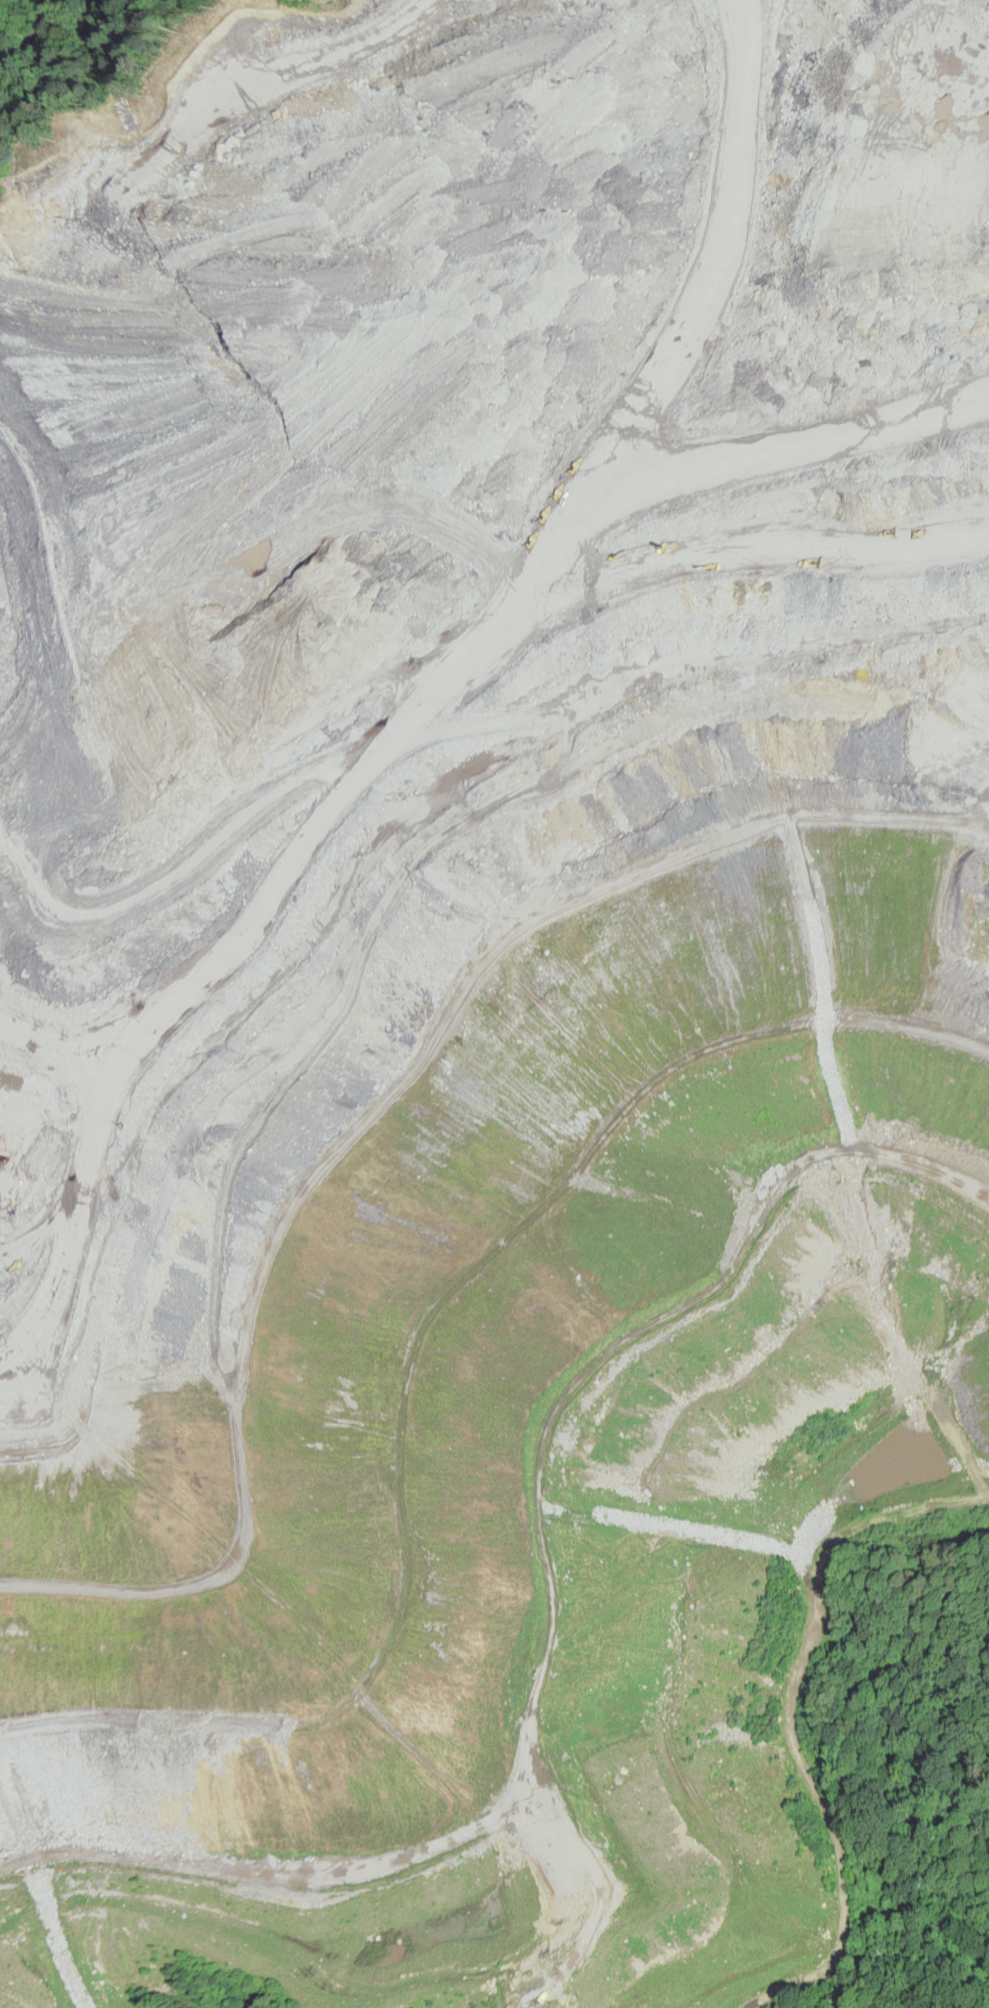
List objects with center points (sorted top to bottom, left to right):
quarry: (479, 974)

